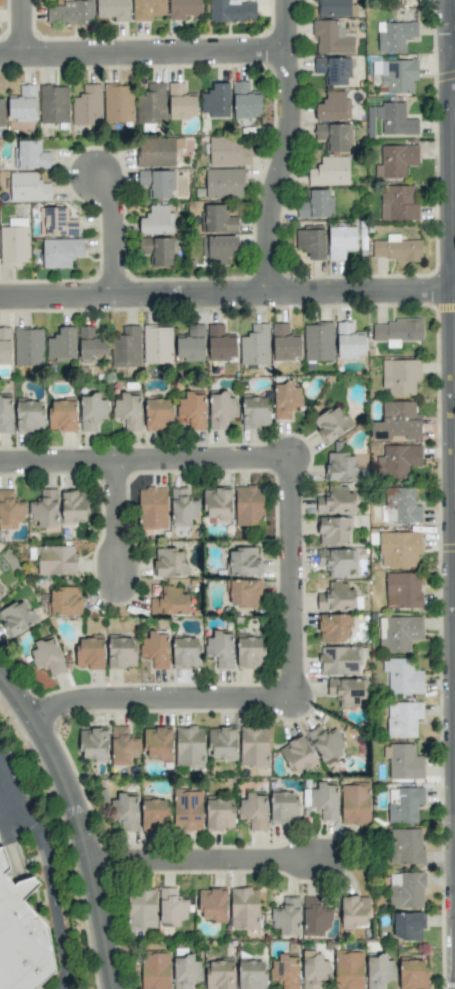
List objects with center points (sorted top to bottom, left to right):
building: (333, 8)
building: (148, 9)
building: (183, 9)
building: (113, 10)
building: (231, 11)
building: (70, 13)
road: (22, 26)
building: (394, 35)
building: (331, 37)
road: (141, 51)
road: (454, 55)
building: (333, 70)
building: (394, 75)
building: (215, 100)
building: (245, 101)
building: (180, 102)
building: (117, 103)
building: (23, 104)
building: (53, 104)
building: (151, 104)
building: (87, 106)
building: (333, 107)
building: (2, 112)
building: (394, 119)
building: (334, 136)
road: (285, 147)
building: (229, 151)
building: (155, 152)
building: (31, 155)
building: (396, 160)
building: (329, 171)
building: (156, 183)
building: (223, 183)
building: (28, 187)
road: (454, 188)
building: (398, 203)
building: (315, 204)
building: (217, 220)
building: (157, 221)
building: (56, 222)
road: (454, 229)
road: (109, 234)
building: (340, 241)
building: (310, 242)
building: (14, 245)
building: (218, 249)
building: (396, 249)
building: (158, 250)
building: (60, 252)
road: (226, 294)
building: (396, 331)
building: (318, 341)
building: (348, 341)
building: (284, 343)
building: (157, 344)
building: (191, 344)
building: (220, 344)
building: (62, 345)
building: (255, 345)
building: (5, 346)
building: (91, 346)
building: (28, 347)
building: (126, 348)
building: (400, 376)
building: (286, 400)
building: (221, 409)
building: (192, 410)
building: (128, 411)
building: (92, 412)
building: (5, 414)
building: (158, 414)
building: (62, 415)
building: (29, 416)
building: (397, 422)
building: (331, 423)
road: (197, 459)
road: (54, 460)
building: (397, 460)
building: (340, 467)
building: (336, 501)
building: (217, 503)
building: (248, 505)
building: (400, 505)
building: (73, 507)
building: (182, 507)
building: (153, 508)
building: (44, 509)
building: (10, 510)
road: (109, 522)
building: (333, 530)
building: (399, 549)
building: (55, 560)
building: (336, 561)
building: (169, 562)
building: (243, 562)
road: (287, 579)
building: (2, 587)
building: (402, 590)
building: (244, 593)
building: (336, 597)
building: (64, 601)
building: (169, 602)
building: (16, 617)
building: (333, 628)
building: (399, 632)
building: (154, 648)
building: (220, 649)
building: (250, 651)
building: (121, 652)
building: (185, 652)
building: (89, 653)
building: (47, 656)
building: (402, 676)
building: (347, 691)
road: (151, 698)
building: (402, 719)
building: (157, 743)
building: (222, 743)
building: (326, 743)
building: (93, 744)
building: (189, 745)
building: (123, 746)
building: (254, 746)
building: (297, 755)
building: (403, 762)
building: (325, 800)
building: (355, 804)
road: (12, 807)
building: (283, 807)
building: (187, 810)
building: (253, 810)
building: (124, 811)
building: (154, 814)
building: (219, 814)
road: (72, 830)
building: (405, 846)
road: (196, 861)
road: (52, 872)
building: (406, 890)
building: (212, 905)
building: (171, 907)
building: (141, 908)
building: (244, 908)
building: (354, 911)
building: (286, 917)
building: (315, 917)
building: (407, 926)
building: (21, 936)
building: (314, 969)
building: (155, 970)
building: (348, 970)
building: (185, 971)
building: (284, 971)
building: (378, 971)
building: (219, 974)
building: (251, 974)
building: (412, 974)

